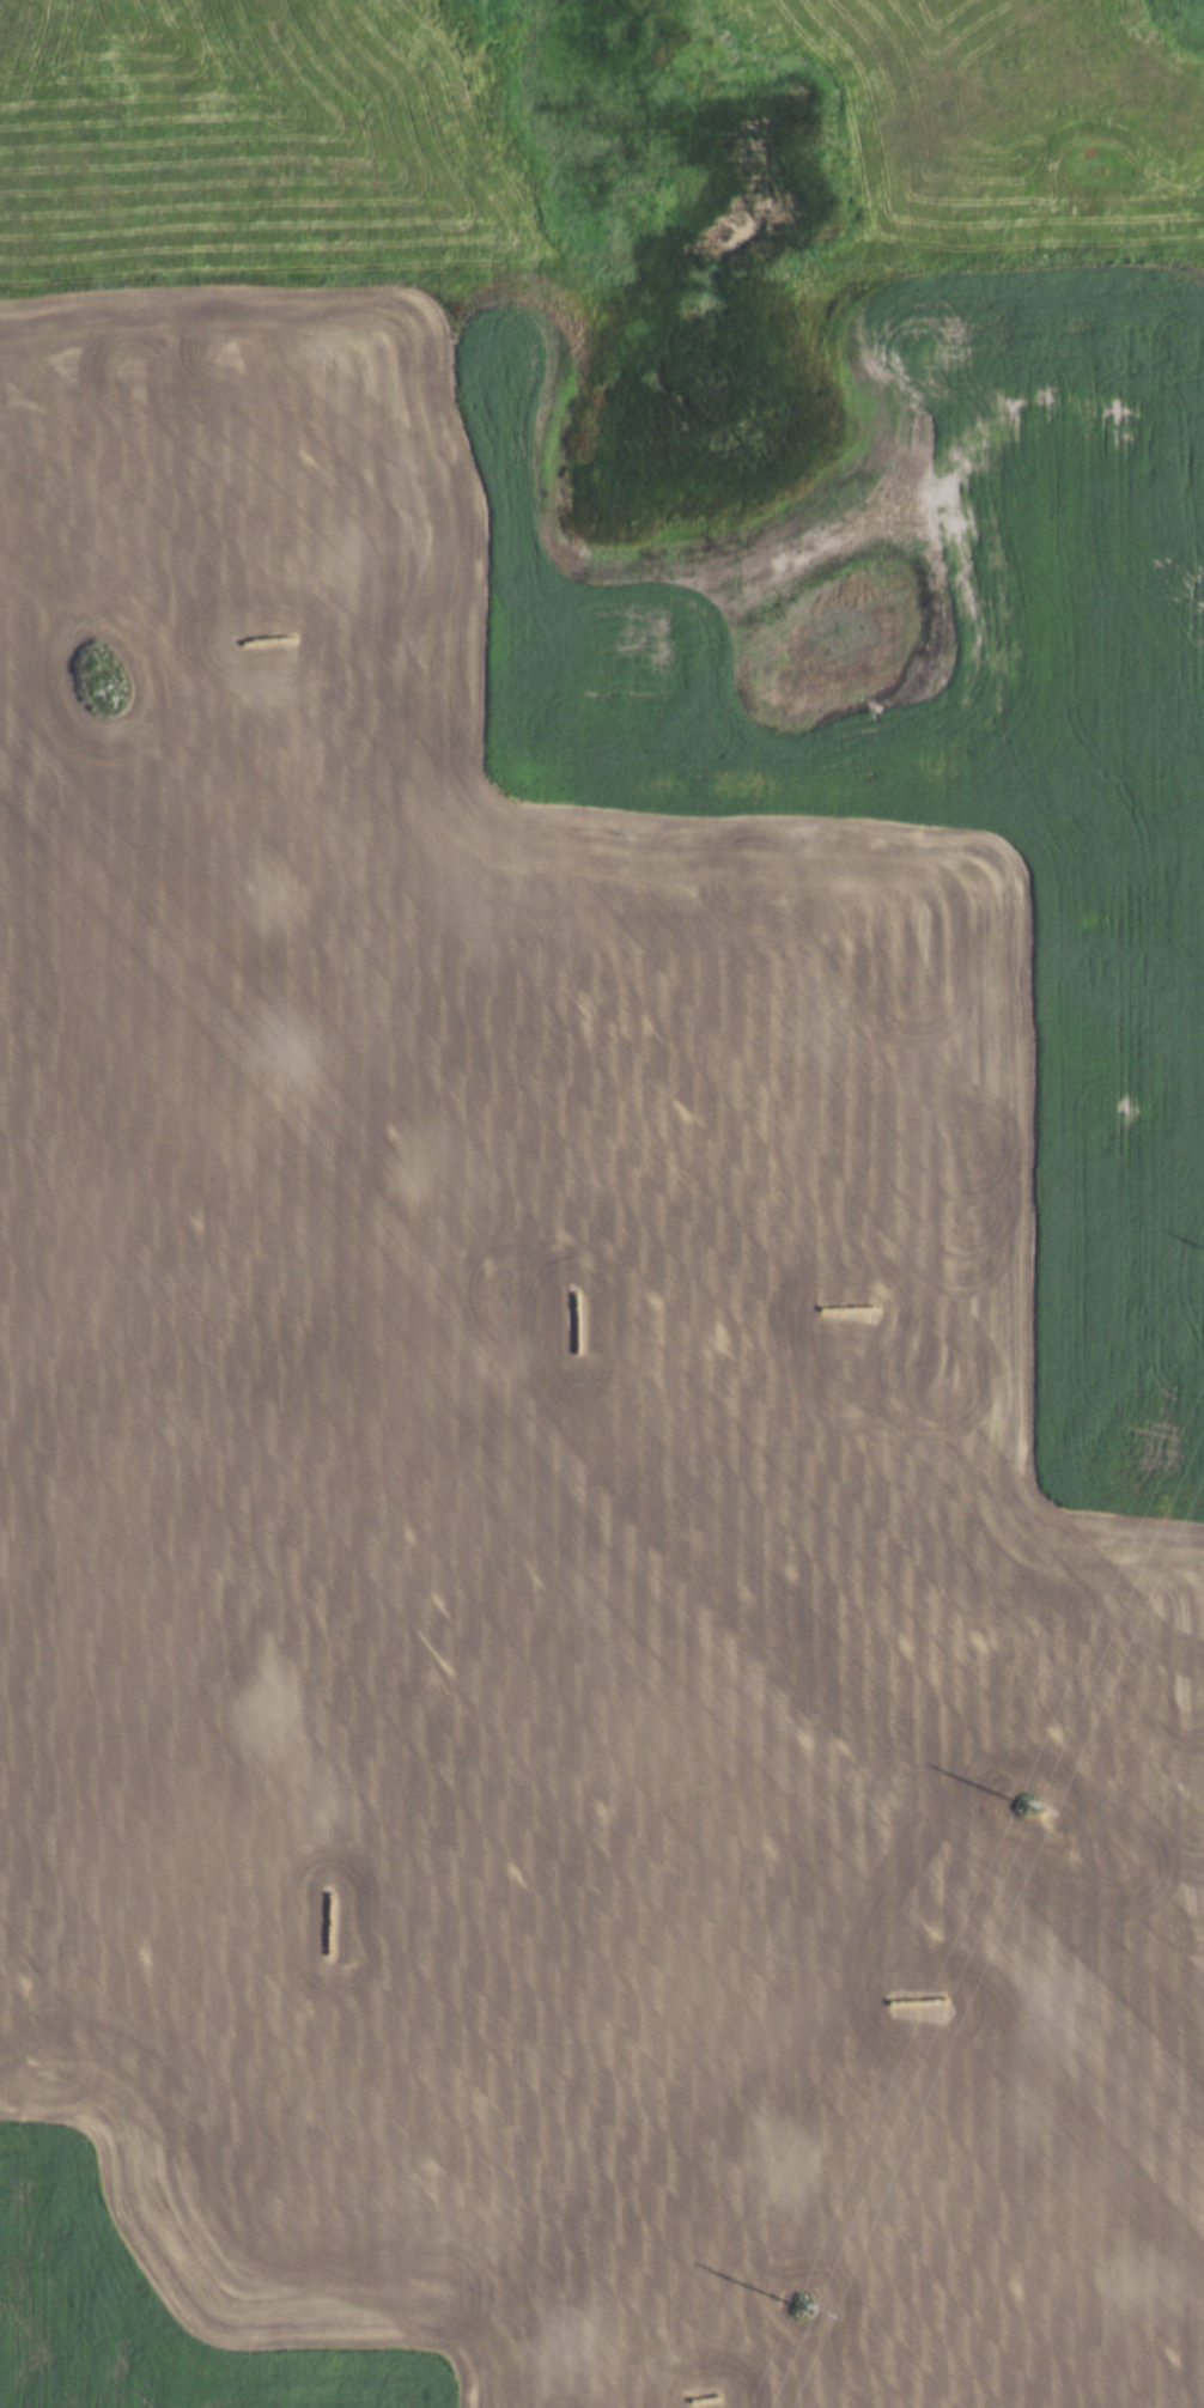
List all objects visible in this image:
power tower: (1022, 1798)
power tower: (801, 2299)

